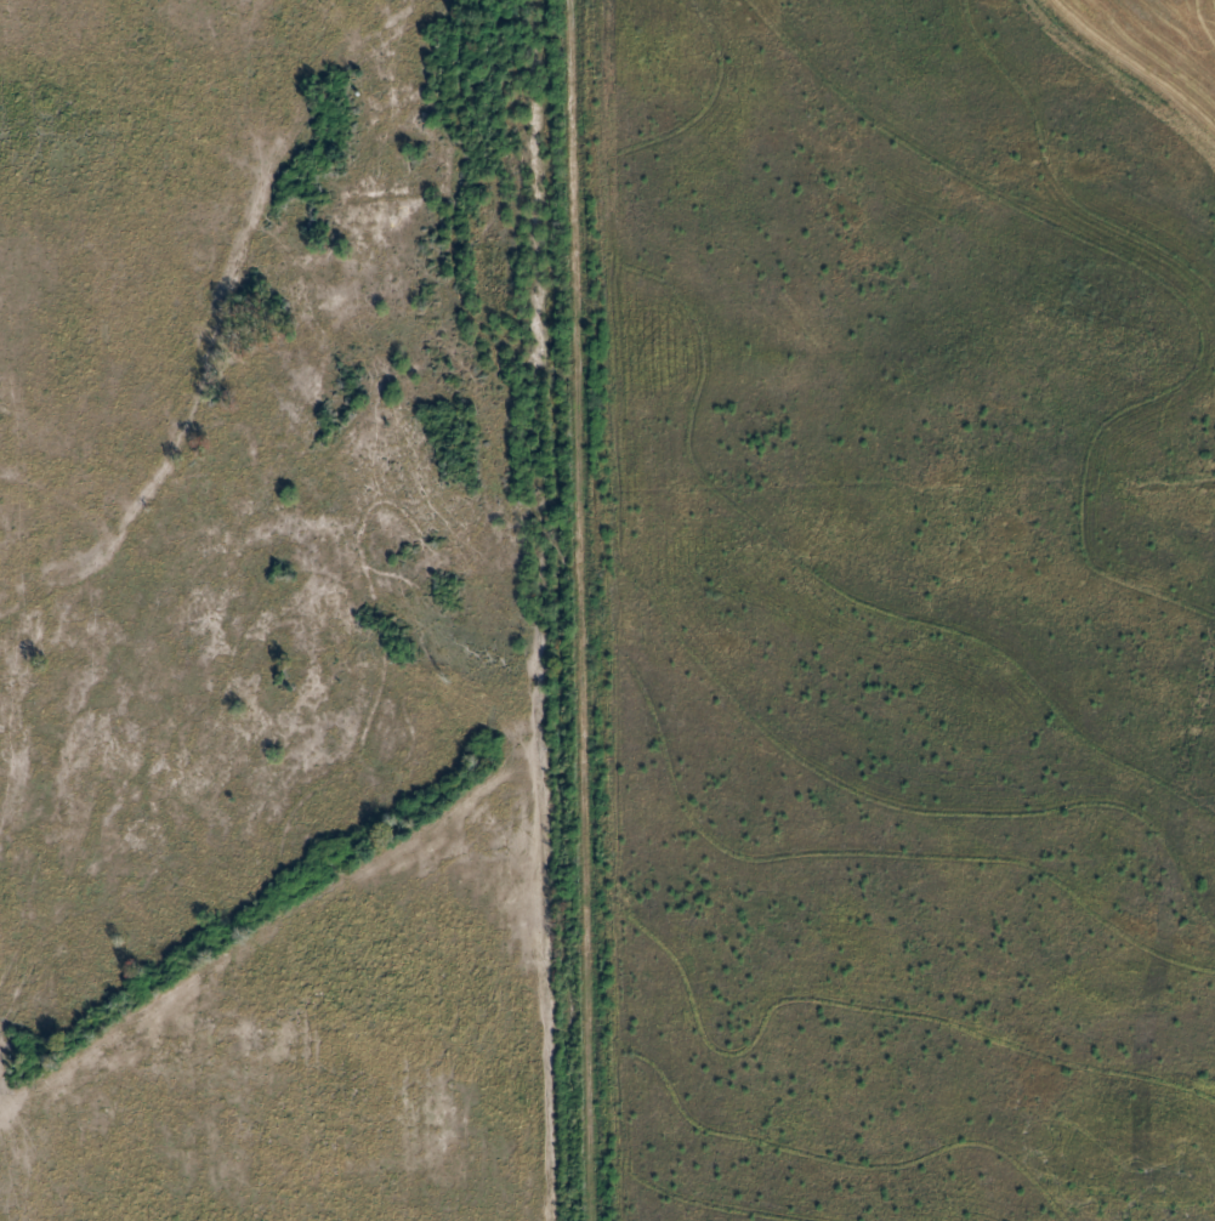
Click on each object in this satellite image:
road: (585, 610)

